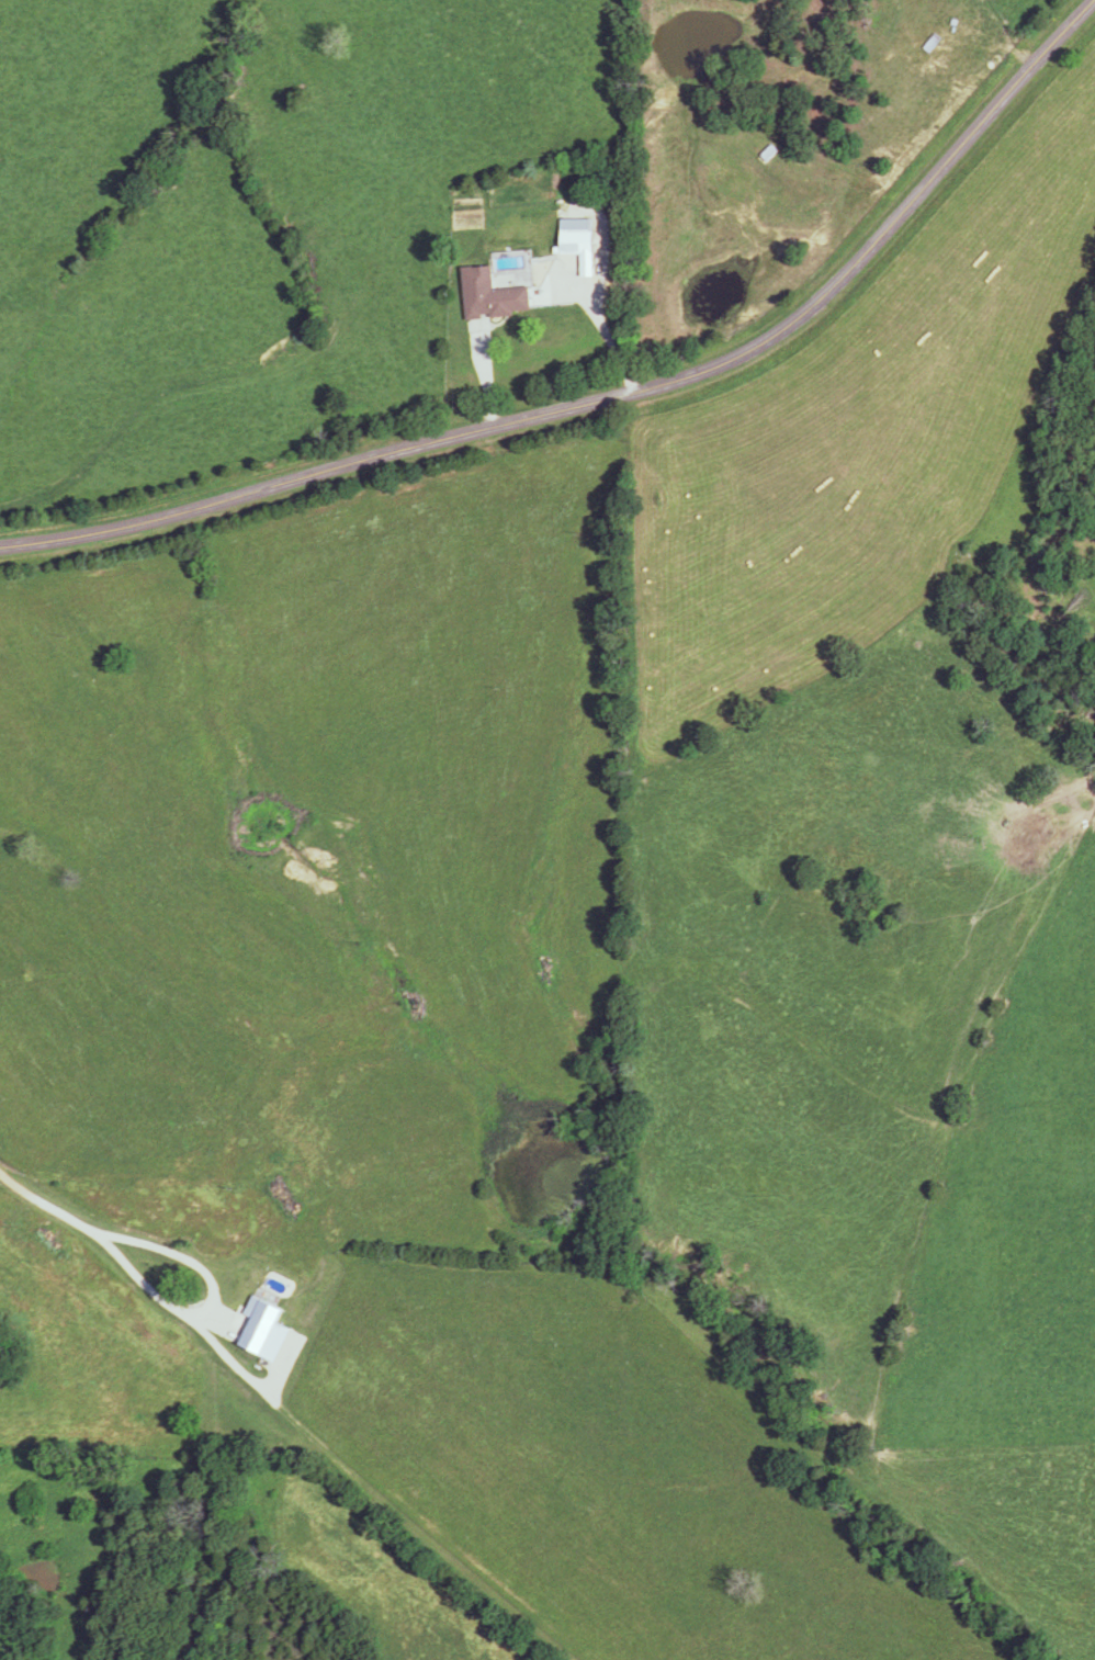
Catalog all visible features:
building: (579, 237)
building: (495, 296)
road: (607, 339)
road: (484, 384)
road: (618, 398)
building: (386, 983)
road: (48, 1210)
building: (159, 1269)
road: (206, 1303)

